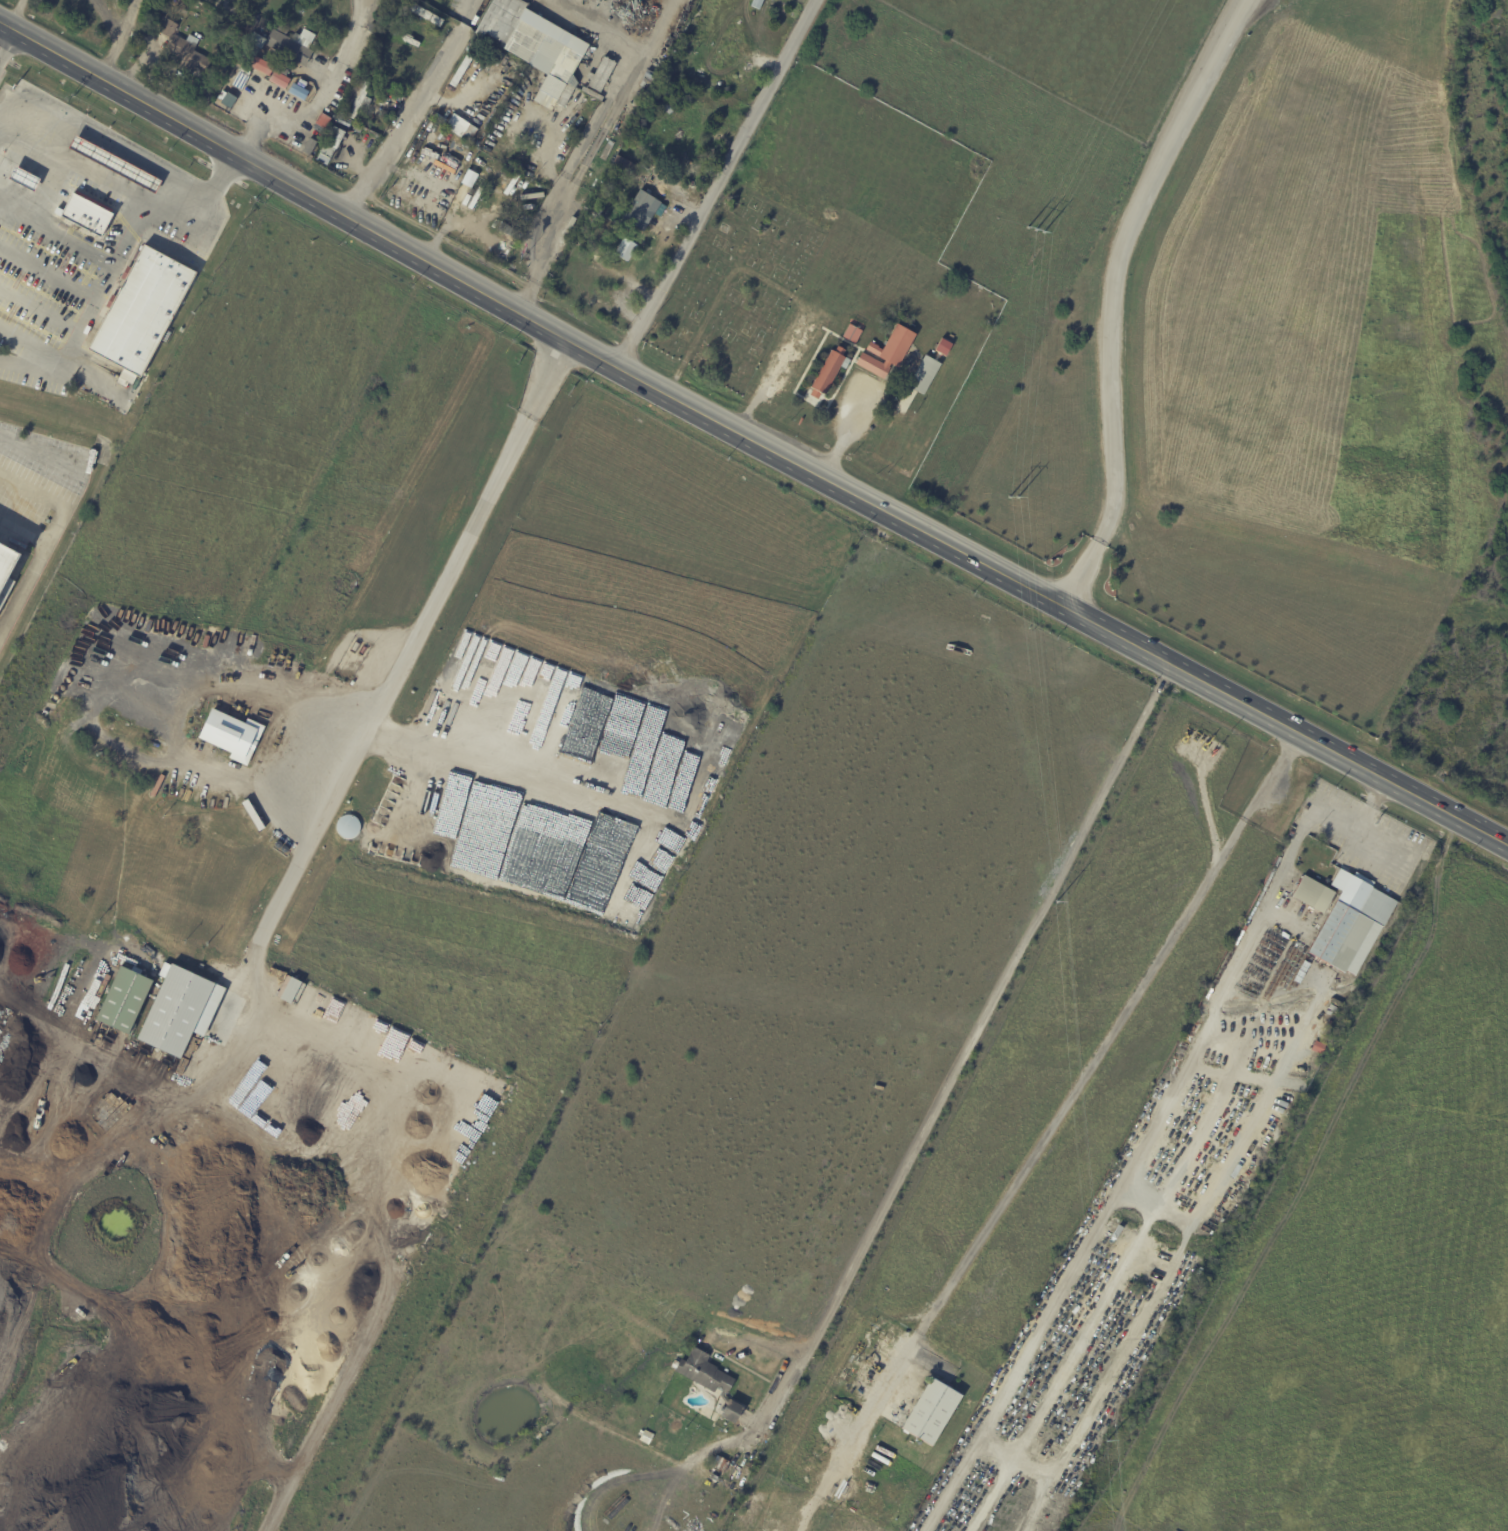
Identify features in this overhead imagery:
building: (186, 2)
building: (705, 6)
road: (15, 13)
building: (426, 14)
building: (372, 28)
building: (169, 29)
road: (4, 36)
road: (120, 40)
building: (288, 45)
building: (363, 48)
building: (728, 48)
power substation: (1083, 48)
building: (534, 50)
building: (190, 54)
building: (602, 75)
building: (651, 78)
building: (304, 86)
building: (300, 93)
building: (338, 95)
road: (318, 98)
building: (360, 100)
building: (639, 100)
road: (412, 109)
building: (459, 127)
road: (591, 133)
building: (336, 138)
road: (439, 147)
building: (448, 147)
road: (119, 149)
building: (487, 149)
building: (114, 163)
building: (632, 169)
building: (479, 183)
road: (714, 184)
building: (465, 192)
building: (641, 209)
building: (86, 213)
road: (455, 221)
power tower: (1032, 228)
building: (510, 233)
building: (624, 249)
building: (624, 266)
road: (46, 273)
road: (764, 279)
park: (735, 287)
road: (95, 293)
road: (1126, 297)
building: (141, 312)
building: (853, 331)
building: (942, 346)
building: (886, 352)
building: (828, 373)
building: (919, 382)
road: (749, 408)
road: (842, 427)
road: (750, 440)
power tower: (1014, 500)
road: (34, 564)
building: (9, 573)
road: (404, 644)
building: (540, 733)
building: (237, 736)
building: (1383, 877)
road: (1269, 894)
building: (1314, 894)
power tower: (1052, 896)
building: (1351, 923)
building: (291, 991)
building: (126, 1000)
building: (175, 1011)
road: (975, 1037)
road: (1048, 1130)
road: (1153, 1208)
road: (1165, 1271)
road: (1052, 1299)
road: (1104, 1304)
building: (709, 1381)
building: (931, 1412)
building: (645, 1437)
power tower: (1104, 1438)
road: (1015, 1448)
building: (746, 1451)
building: (707, 1459)
building: (726, 1468)

